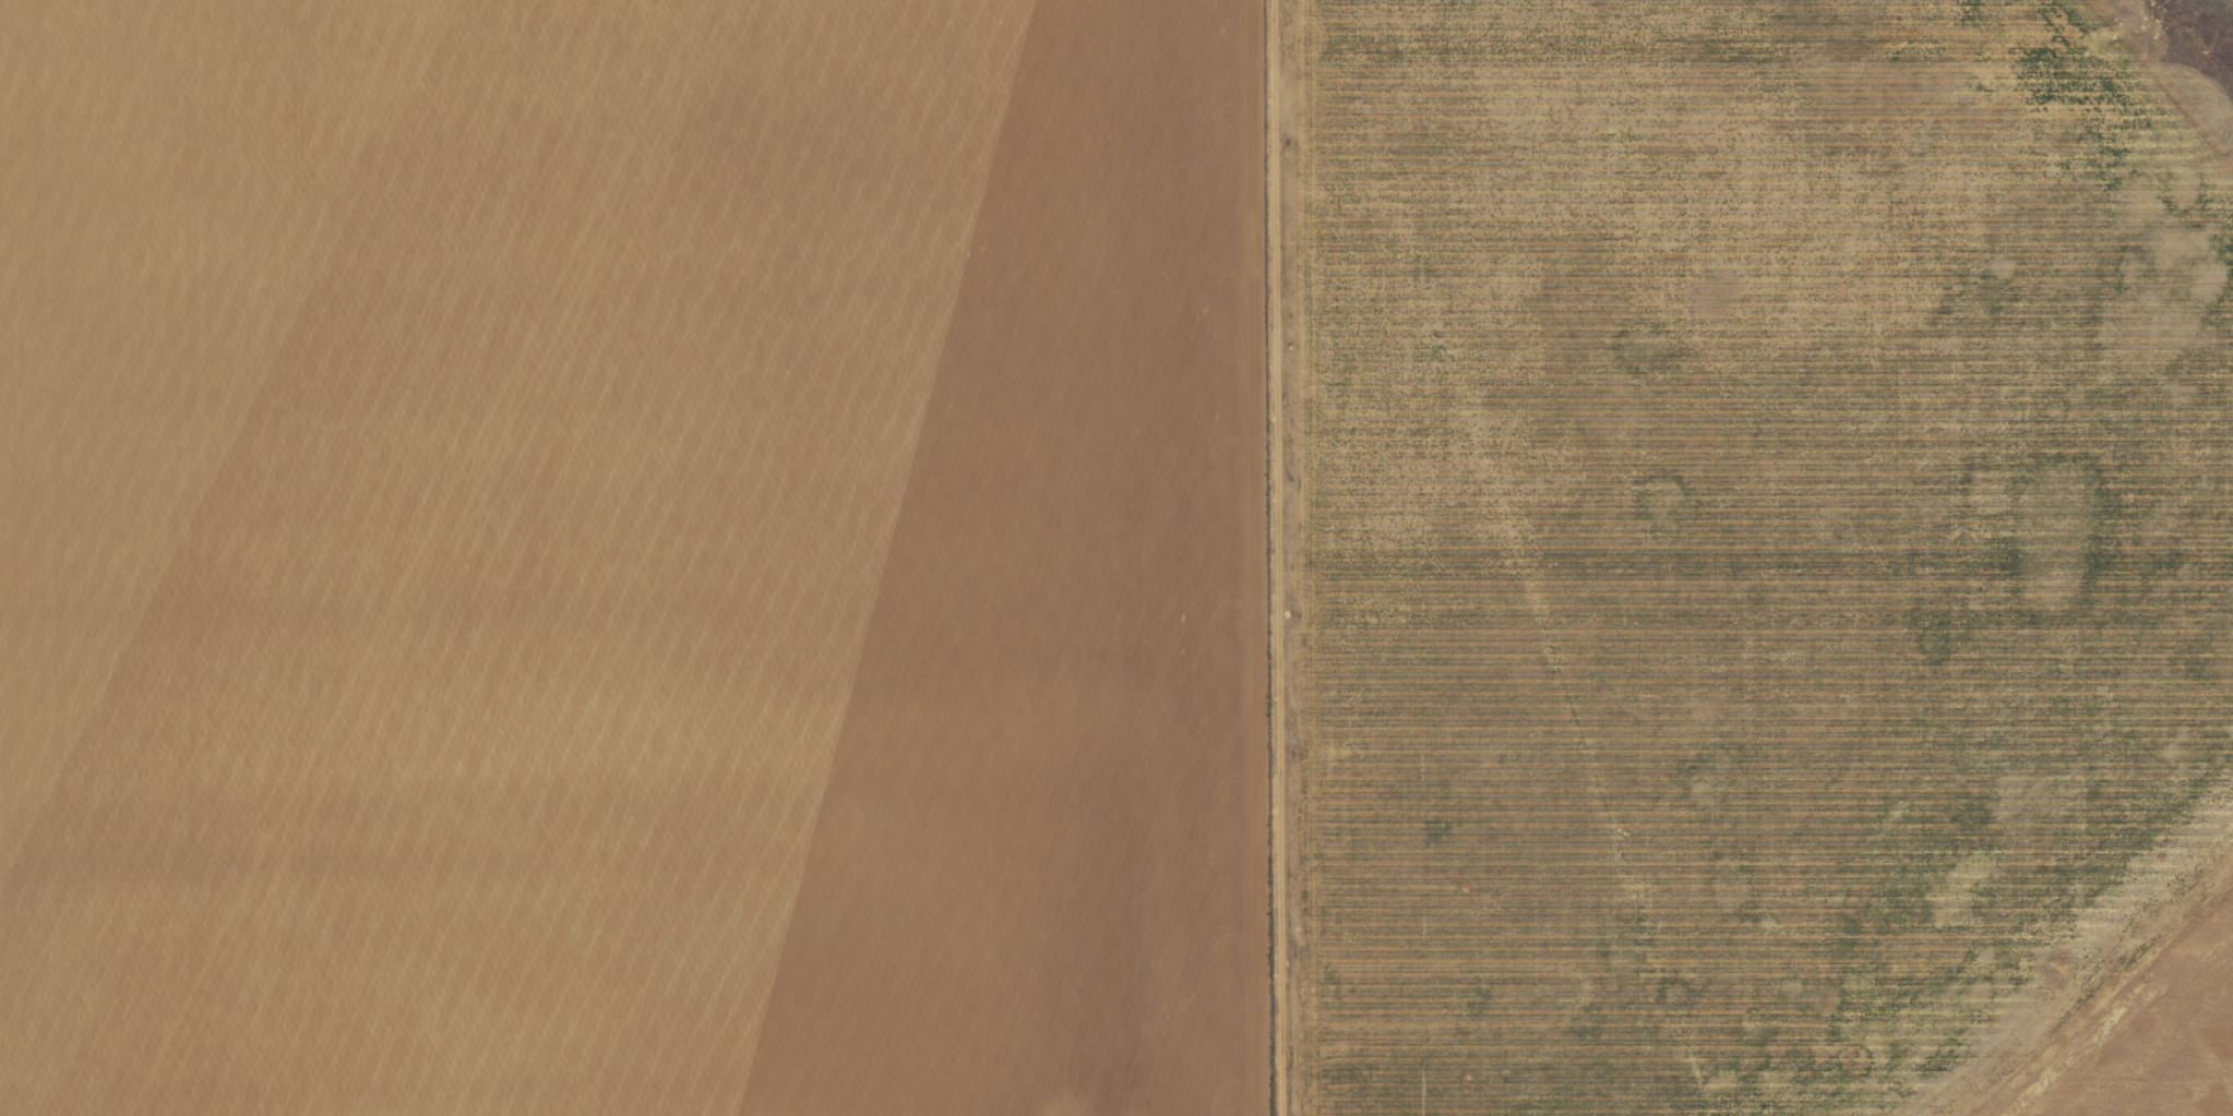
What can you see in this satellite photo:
road: (1276, 557)

